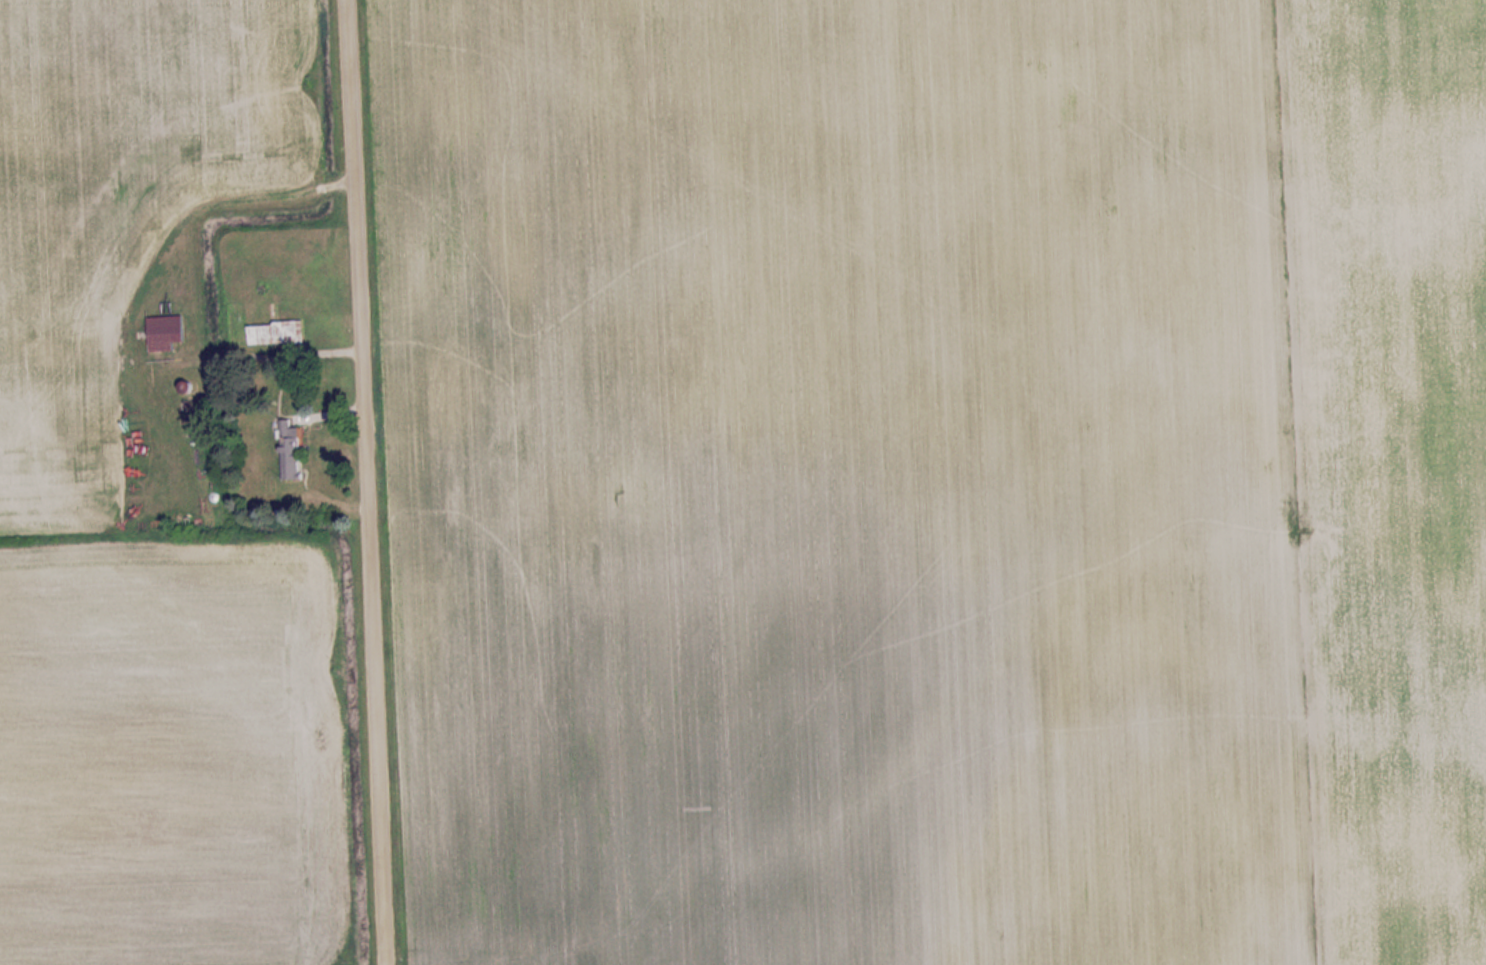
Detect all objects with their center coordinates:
building: (279, 333)
building: (168, 334)
building: (293, 452)
road: (360, 482)

